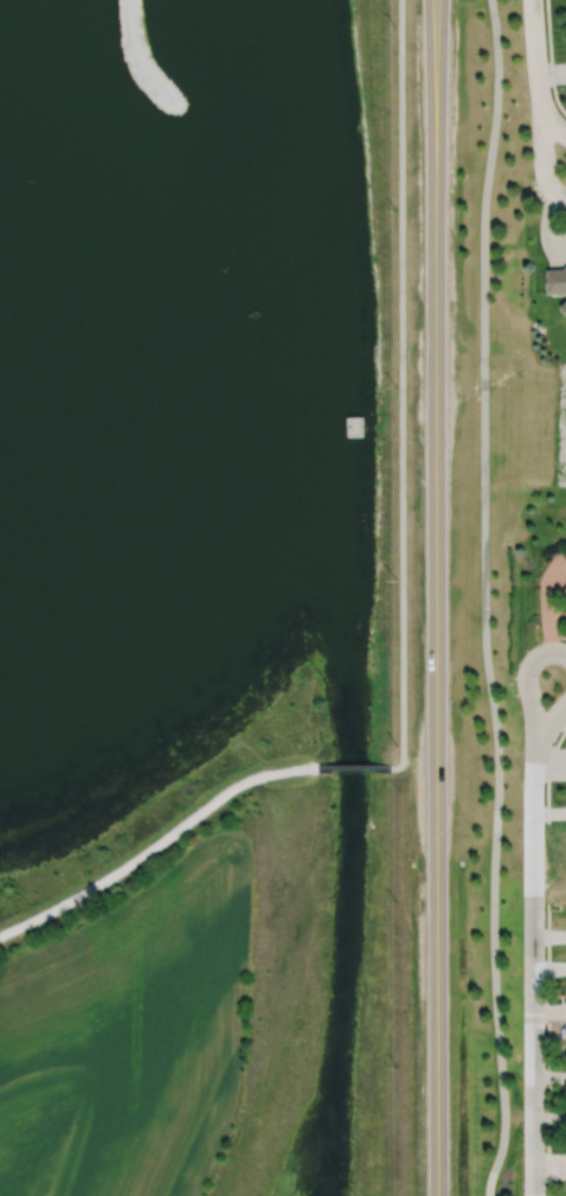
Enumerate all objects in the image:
road: (137, 57)
road: (541, 85)
building: (559, 282)
road: (401, 388)
park: (211, 466)
building: (562, 593)
road: (437, 597)
road: (483, 599)
road: (353, 767)
road: (157, 844)
road: (533, 936)
crop: (133, 1031)

